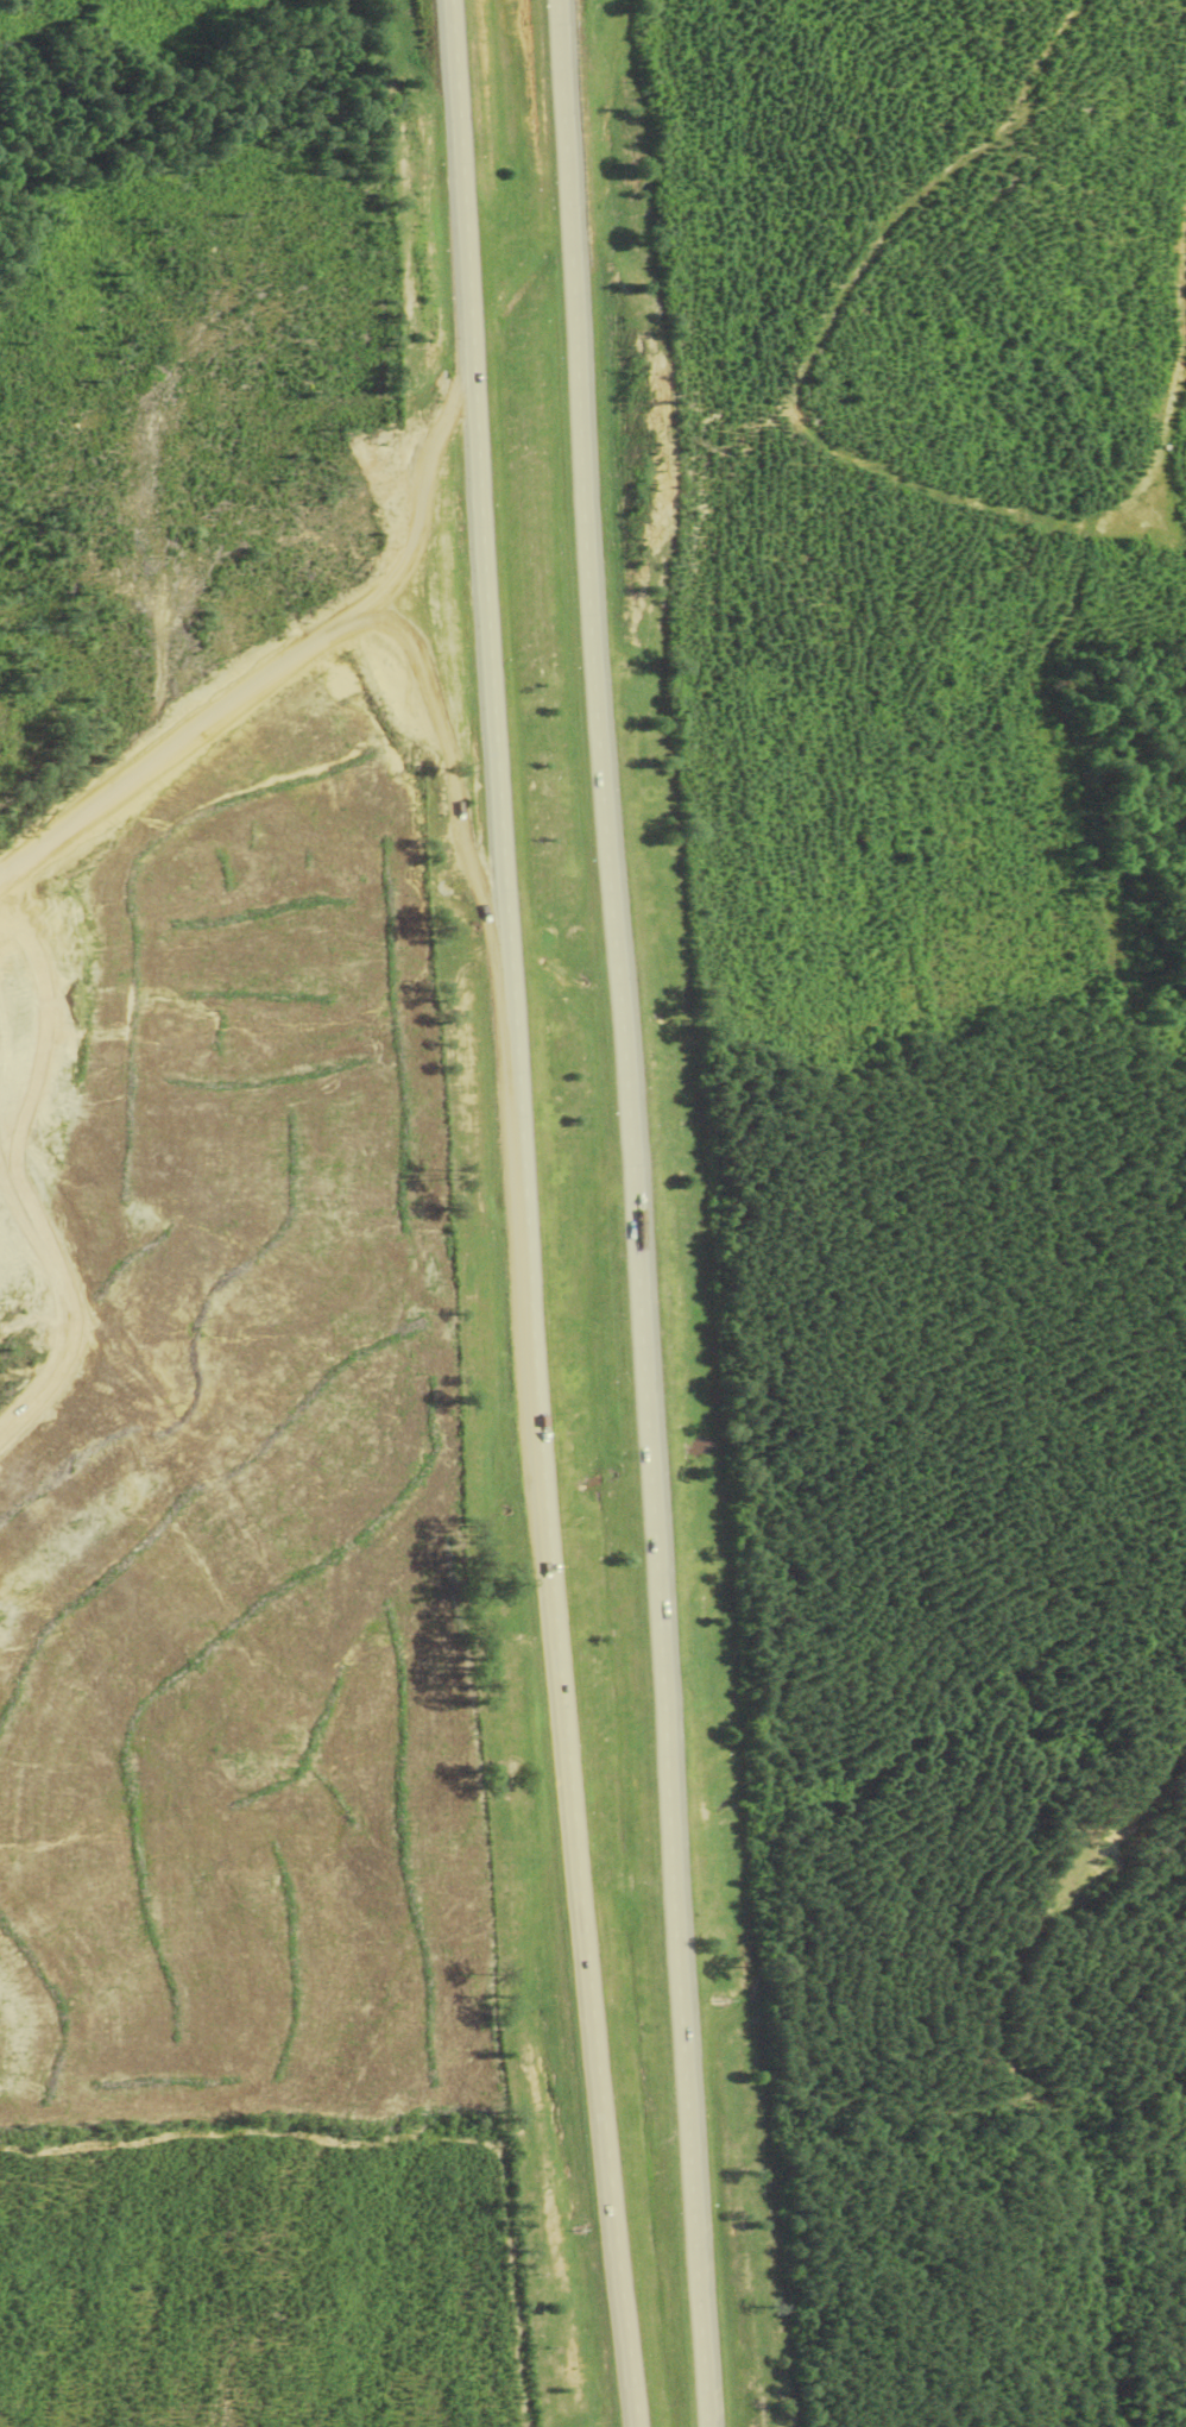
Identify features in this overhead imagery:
road: (636, 1213)
road: (531, 1214)
road: (71, 1295)

